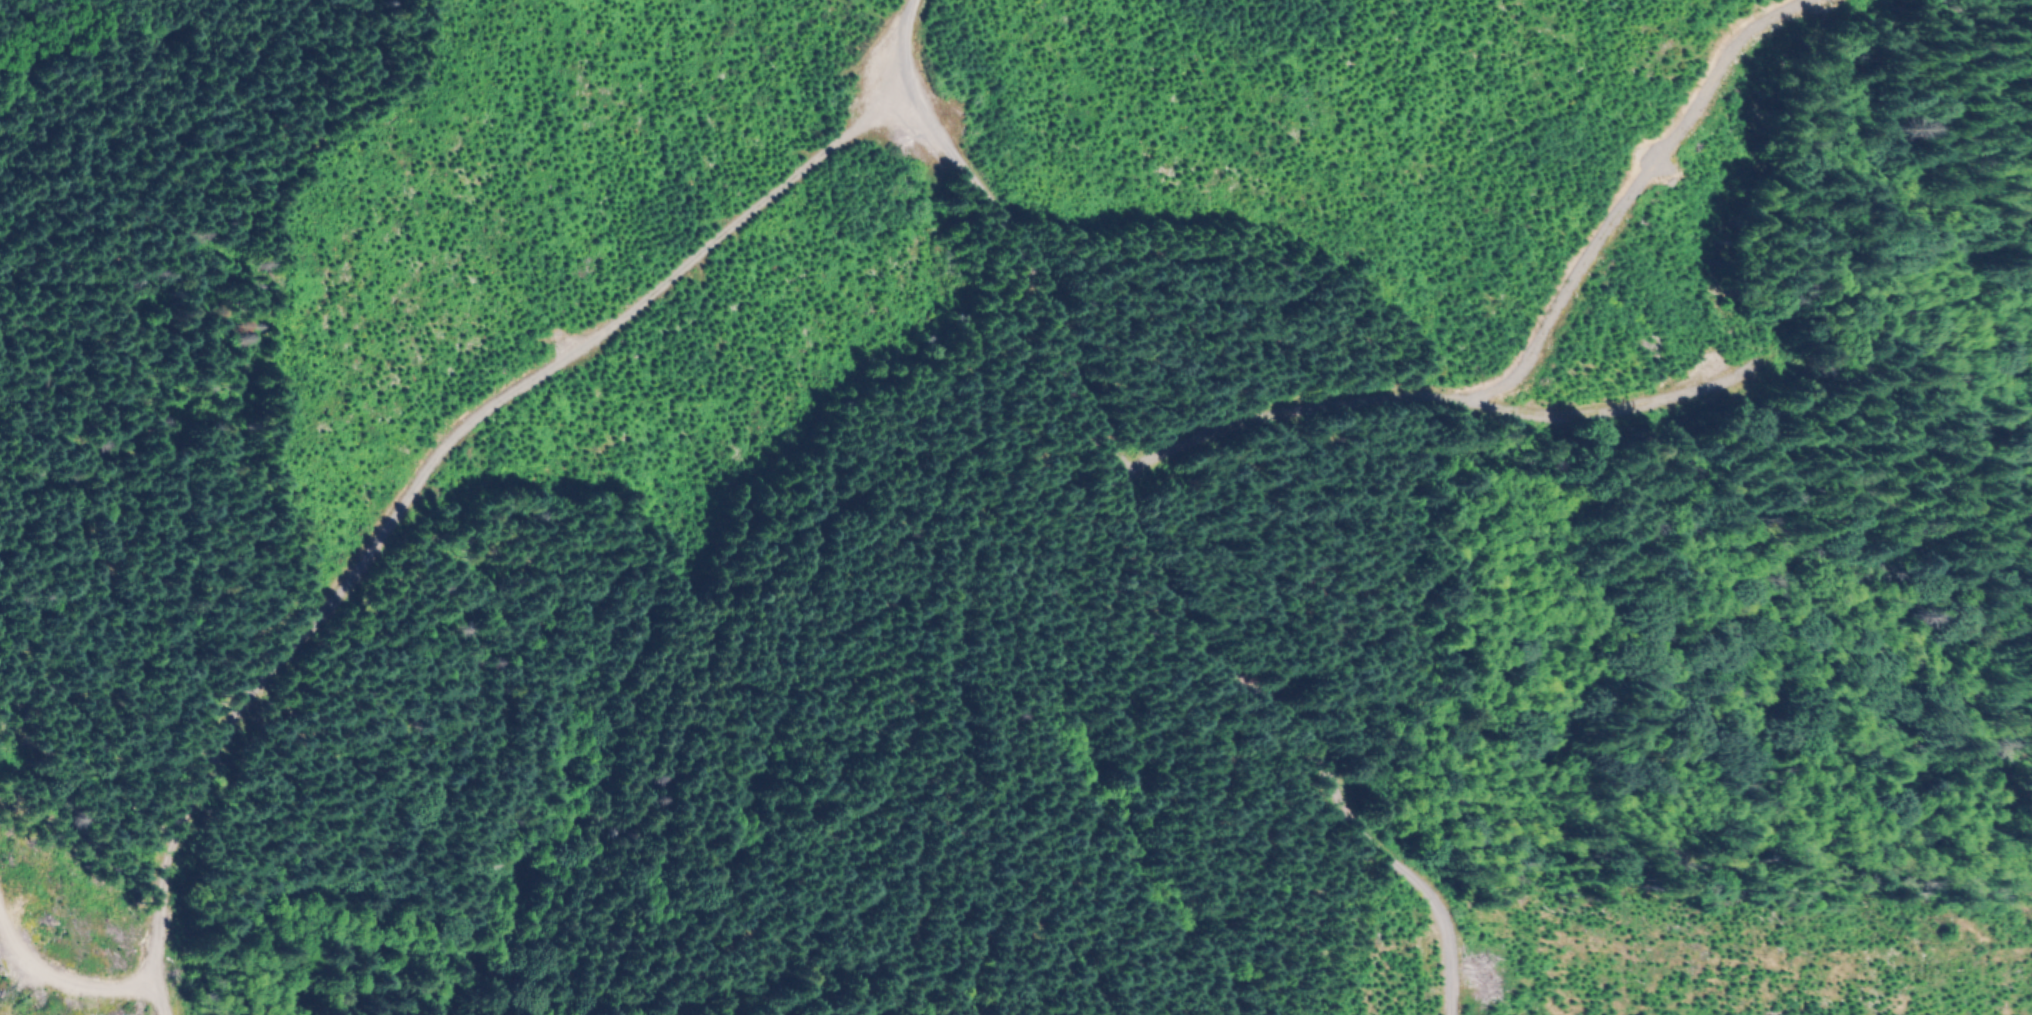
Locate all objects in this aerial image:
road: (756, 209)
road: (1427, 399)
road: (1138, 533)

